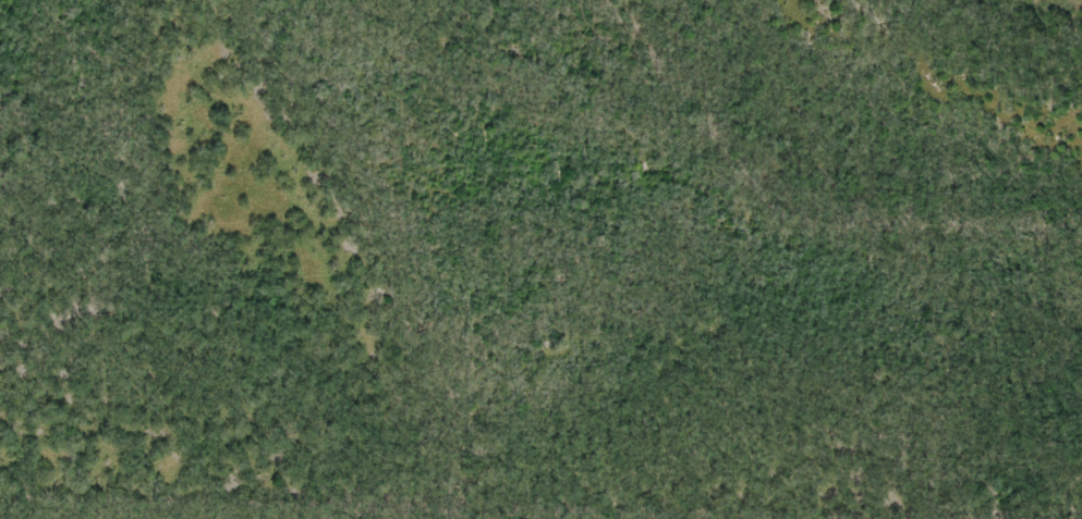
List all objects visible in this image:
road: (7, 97)

